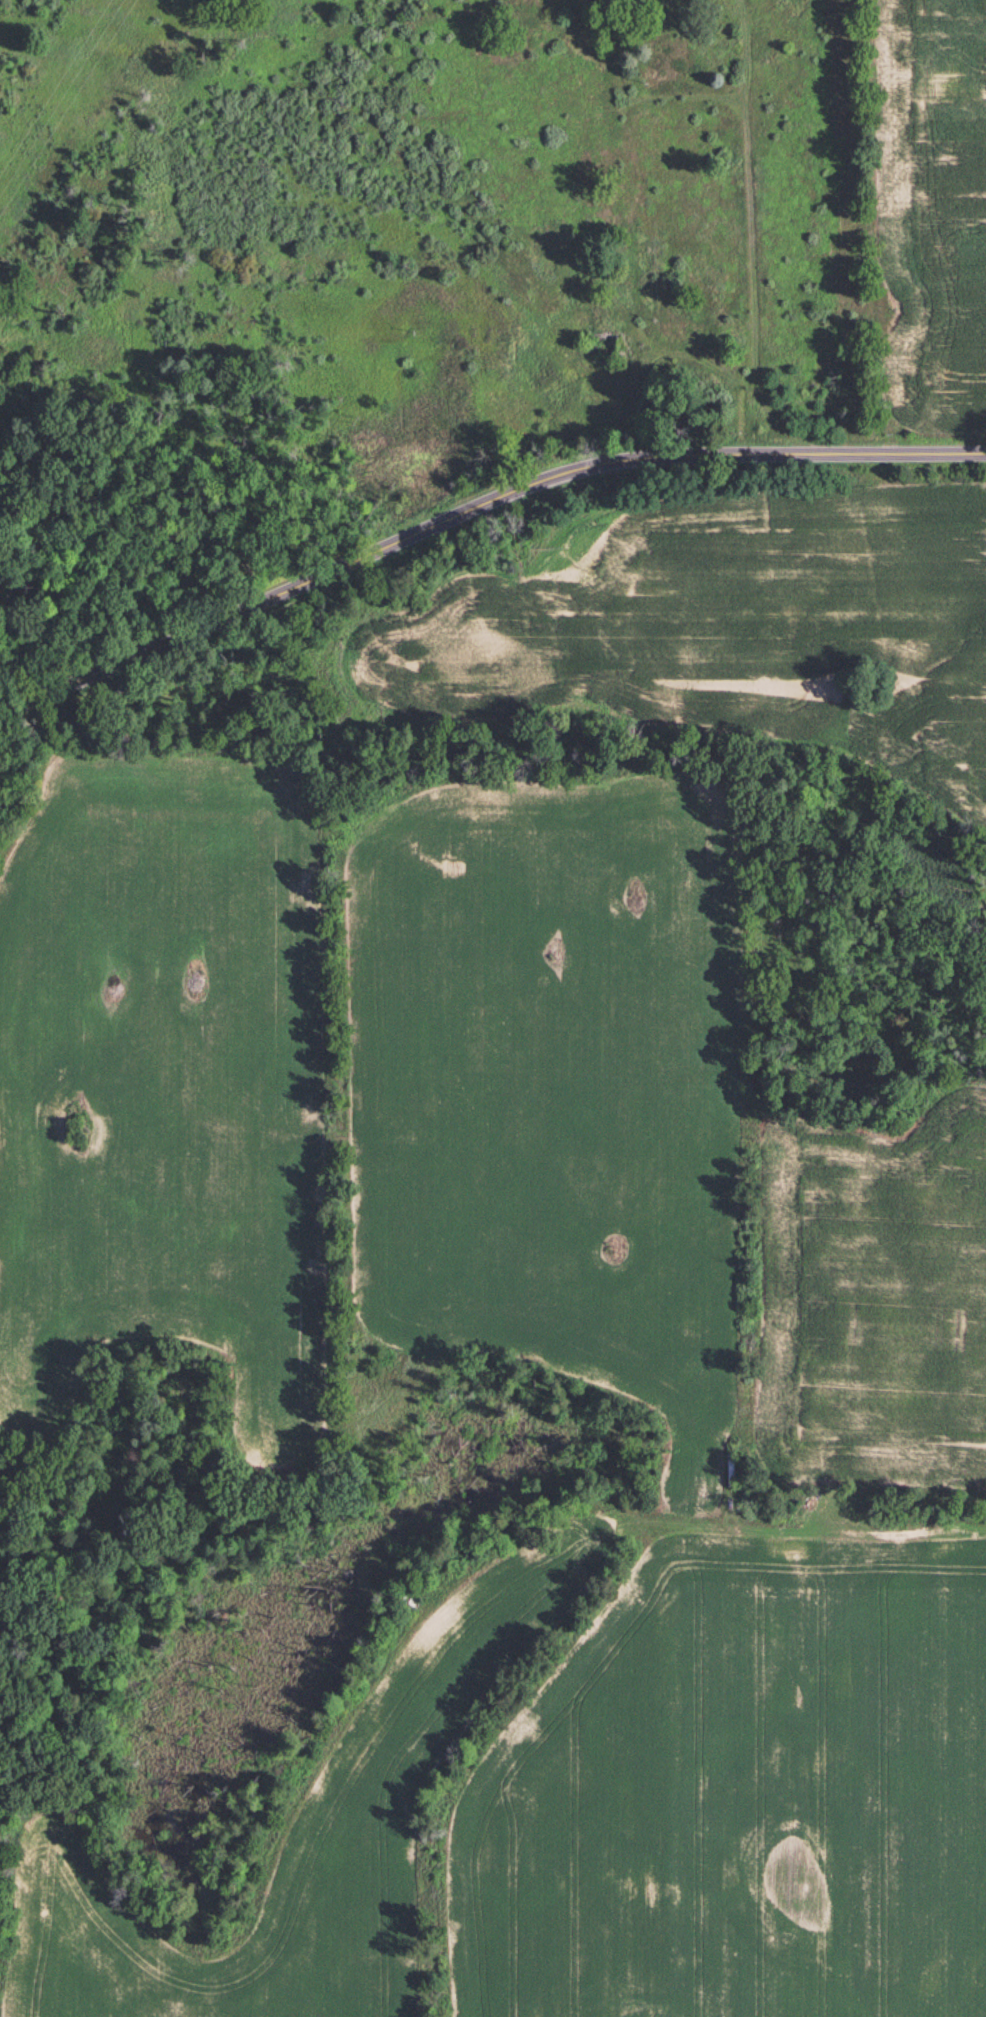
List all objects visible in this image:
crop: (925, 206)
road: (740, 228)
road: (478, 514)
crop: (750, 631)
crop: (162, 1082)
crop: (546, 1086)
crop: (883, 1293)
crop: (742, 1790)
crop: (305, 1832)

